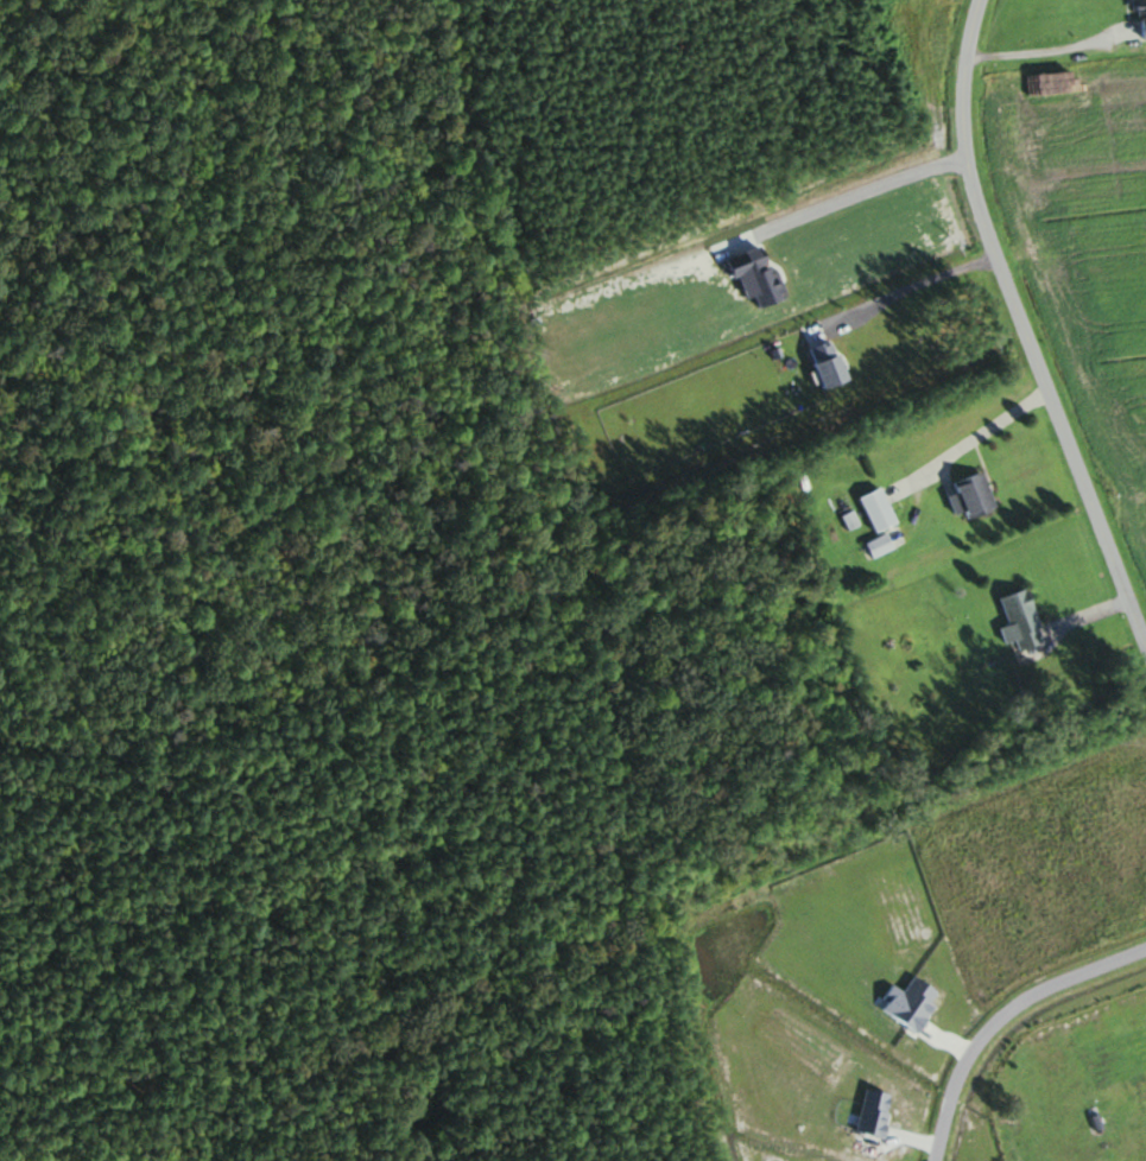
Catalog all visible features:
building: (1141, 18)
road: (1043, 49)
road: (862, 191)
road: (905, 285)
road: (1022, 329)
road: (967, 442)
building: (973, 494)
building: (879, 509)
building: (880, 545)
building: (1022, 618)
road: (1002, 1017)

